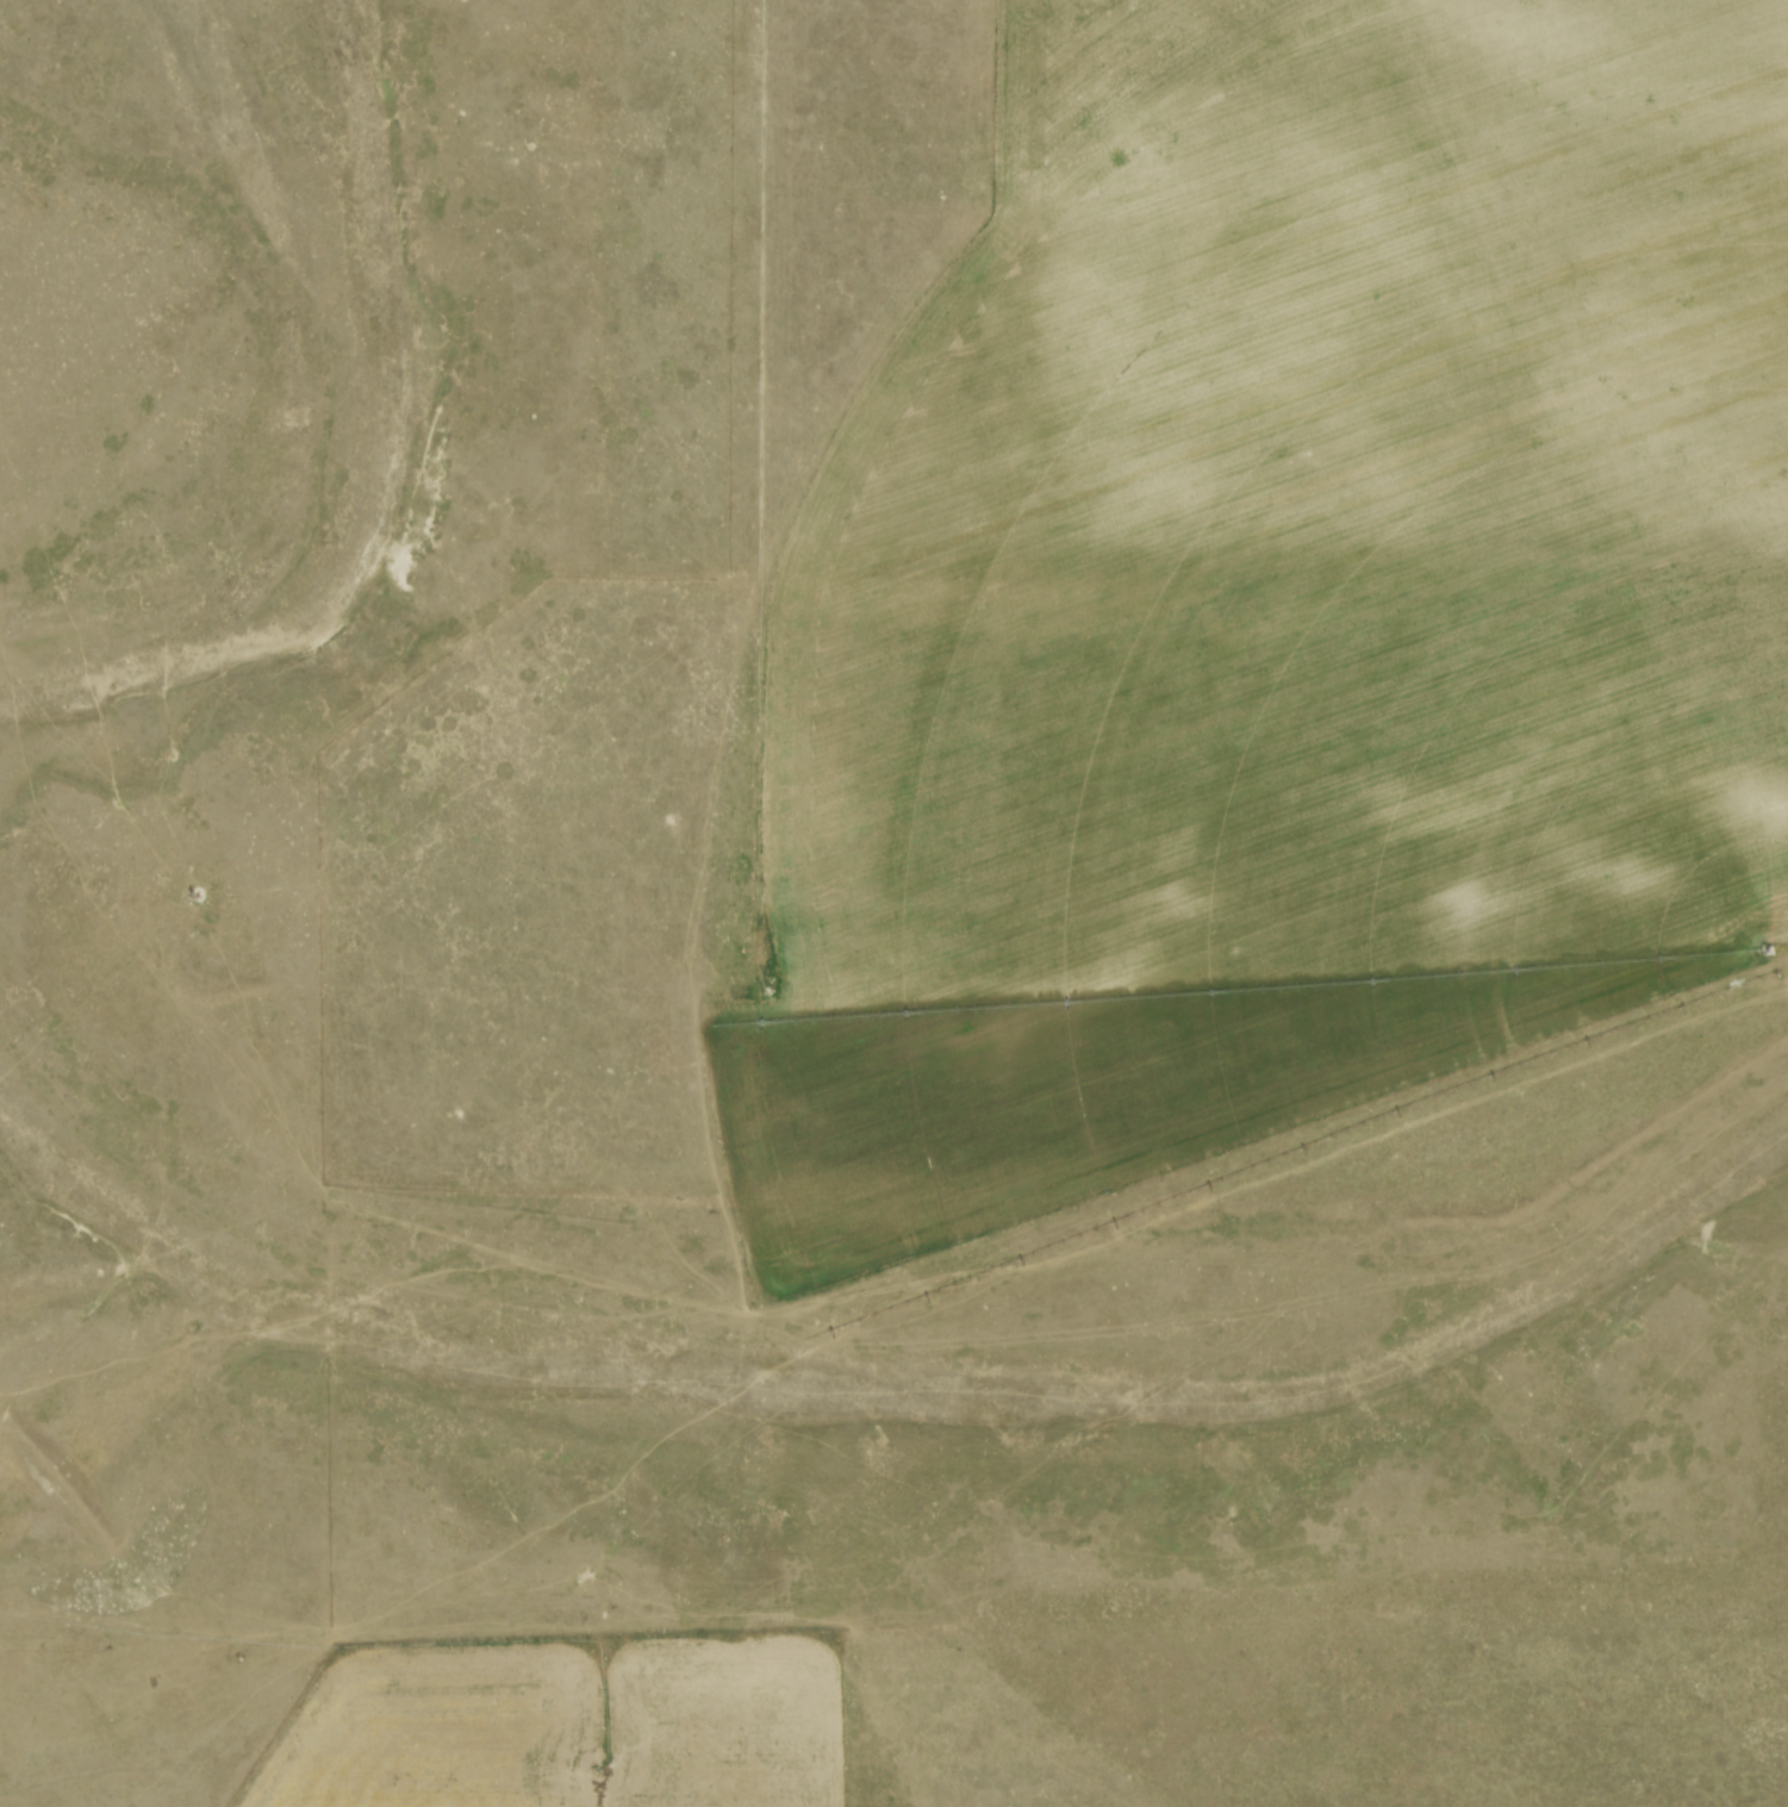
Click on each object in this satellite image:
crop: (1284, 616)
crop: (574, 1730)

